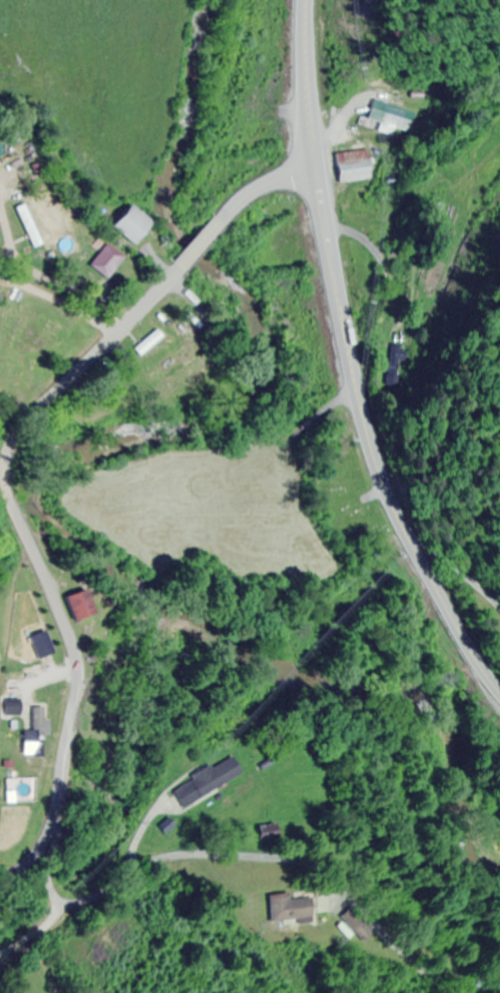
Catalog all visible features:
building: (395, 115)
building: (1, 148)
building: (359, 166)
building: (134, 225)
road: (208, 232)
building: (107, 261)
building: (51, 339)
road: (354, 364)
building: (398, 366)
park: (350, 506)
road: (55, 599)
building: (80, 606)
building: (28, 719)
building: (204, 782)
building: (267, 833)
building: (291, 910)
building: (357, 925)
building: (480, 984)

